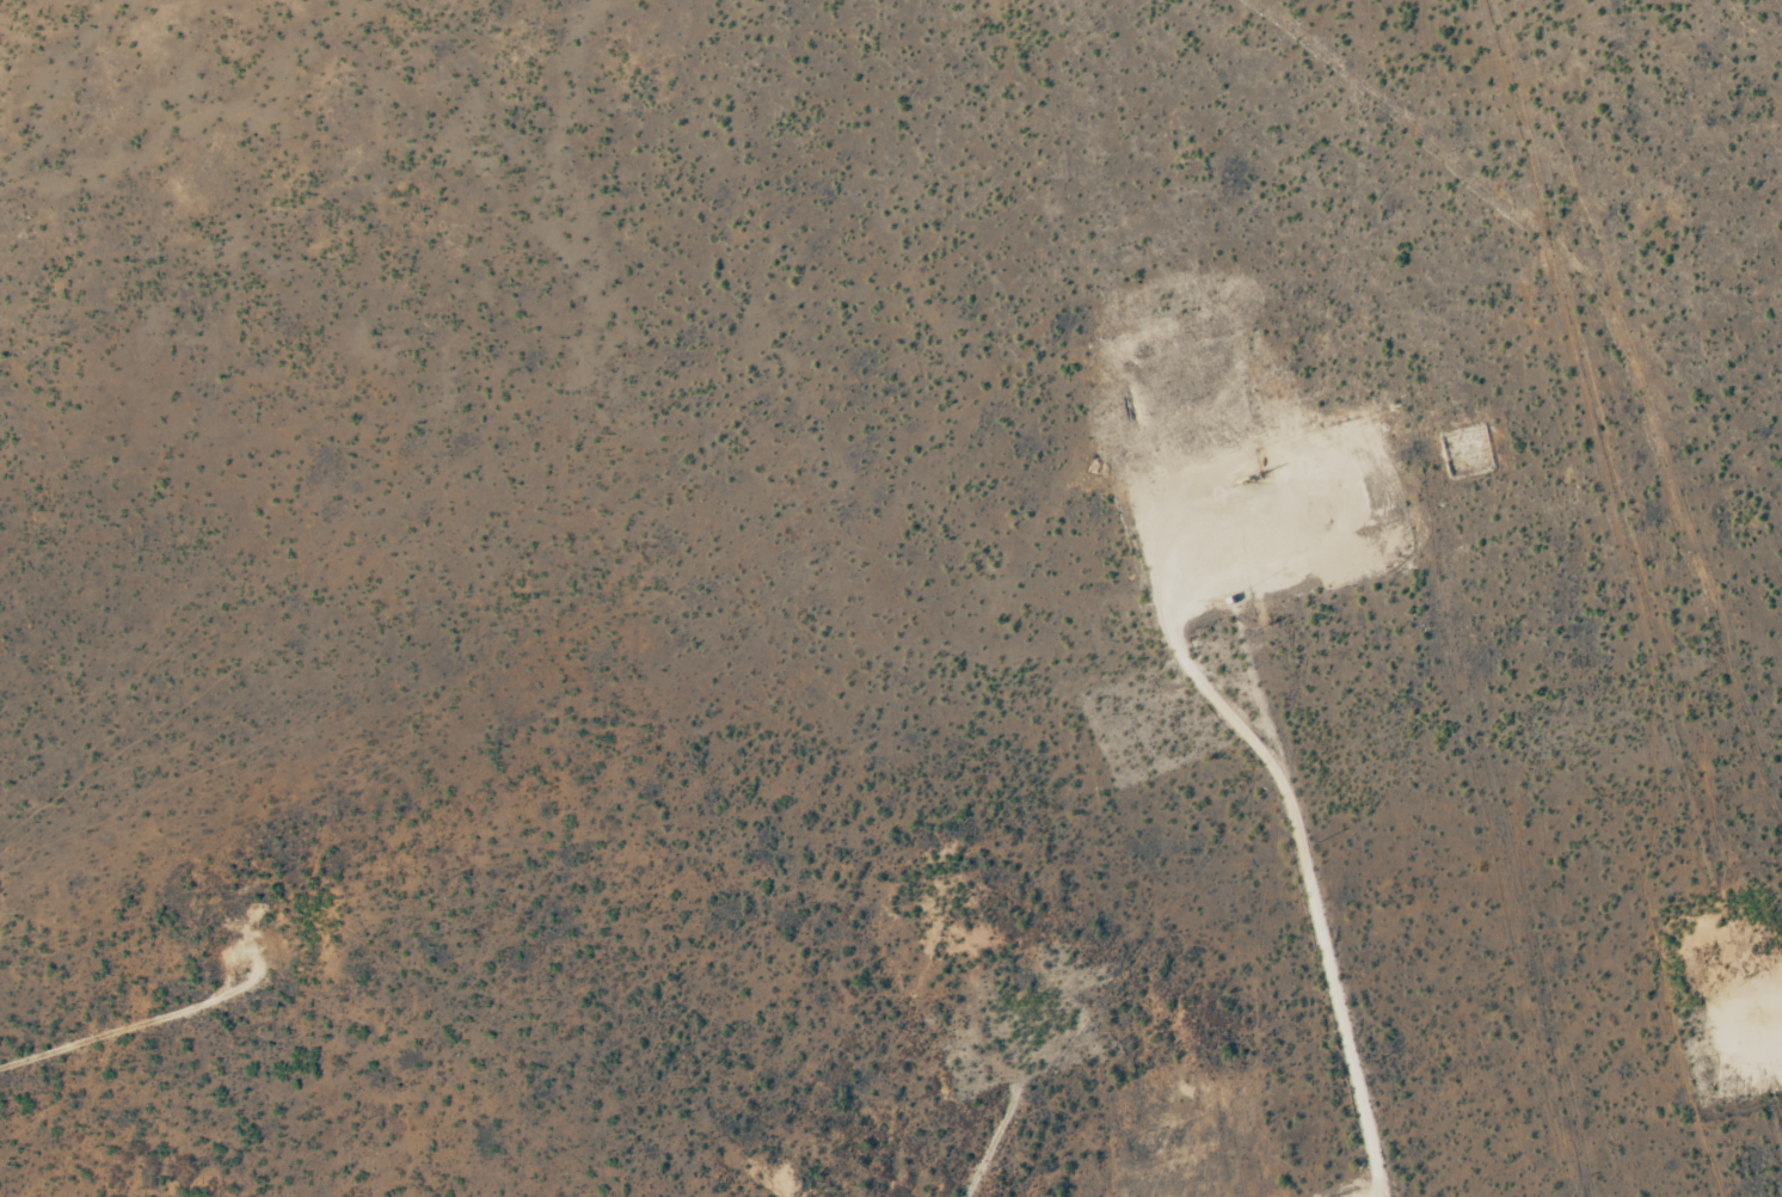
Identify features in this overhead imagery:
road: (116, 1023)

